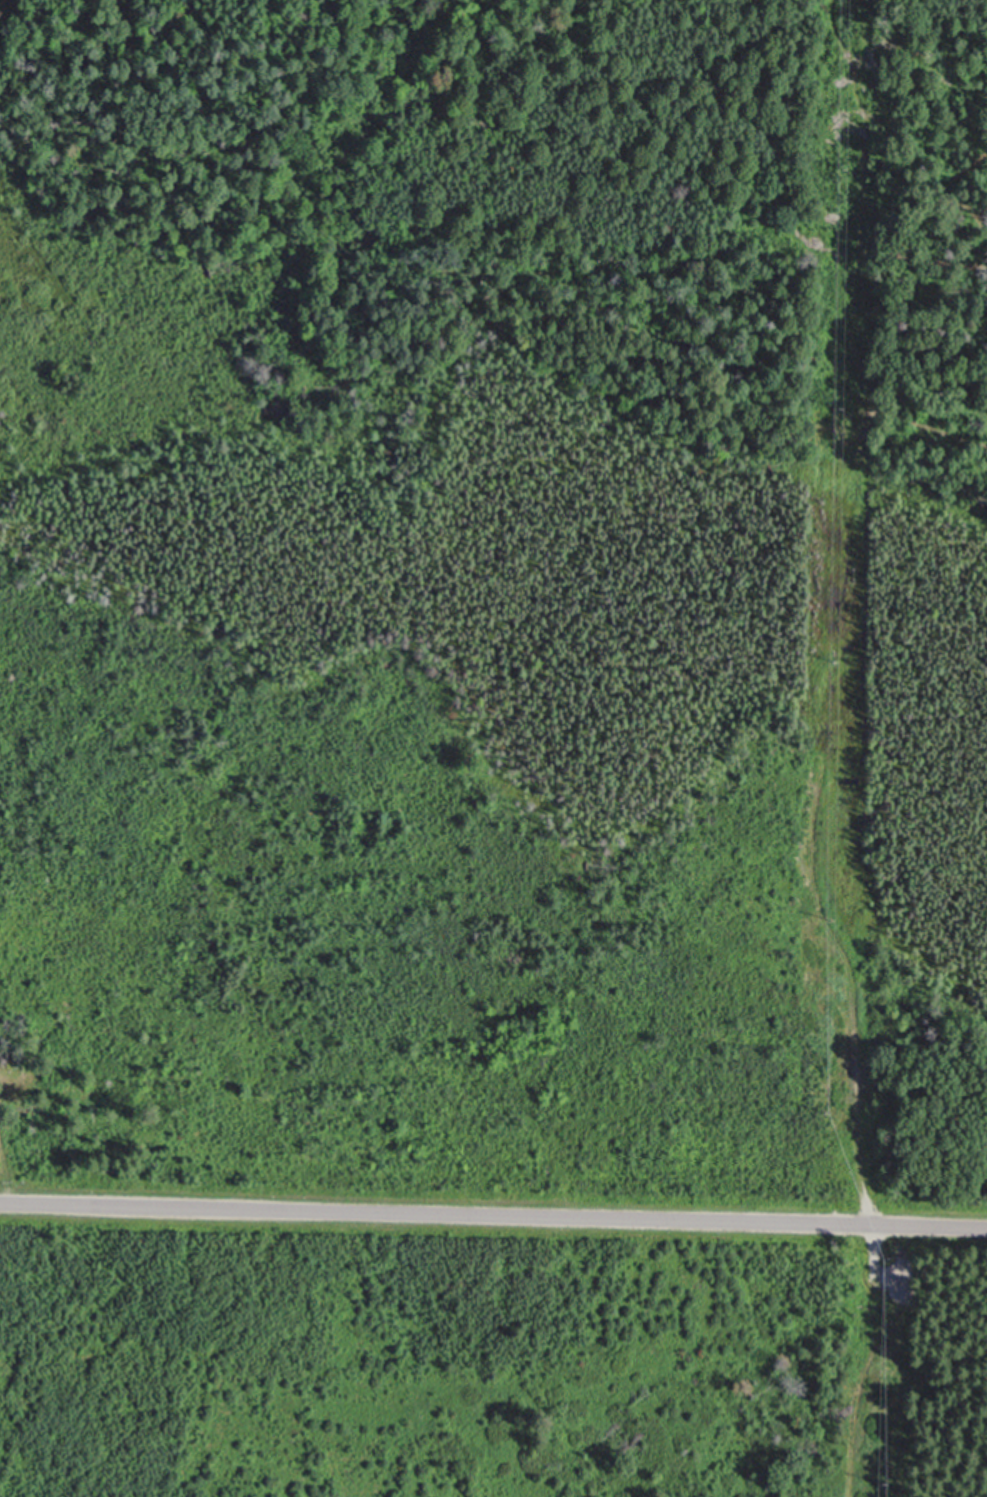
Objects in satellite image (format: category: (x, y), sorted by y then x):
power tower: (854, 170)
power tower: (852, 410)
power tower: (844, 1108)
road: (493, 1213)
power tower: (898, 1254)
road: (866, 1358)
power tower: (892, 1482)

